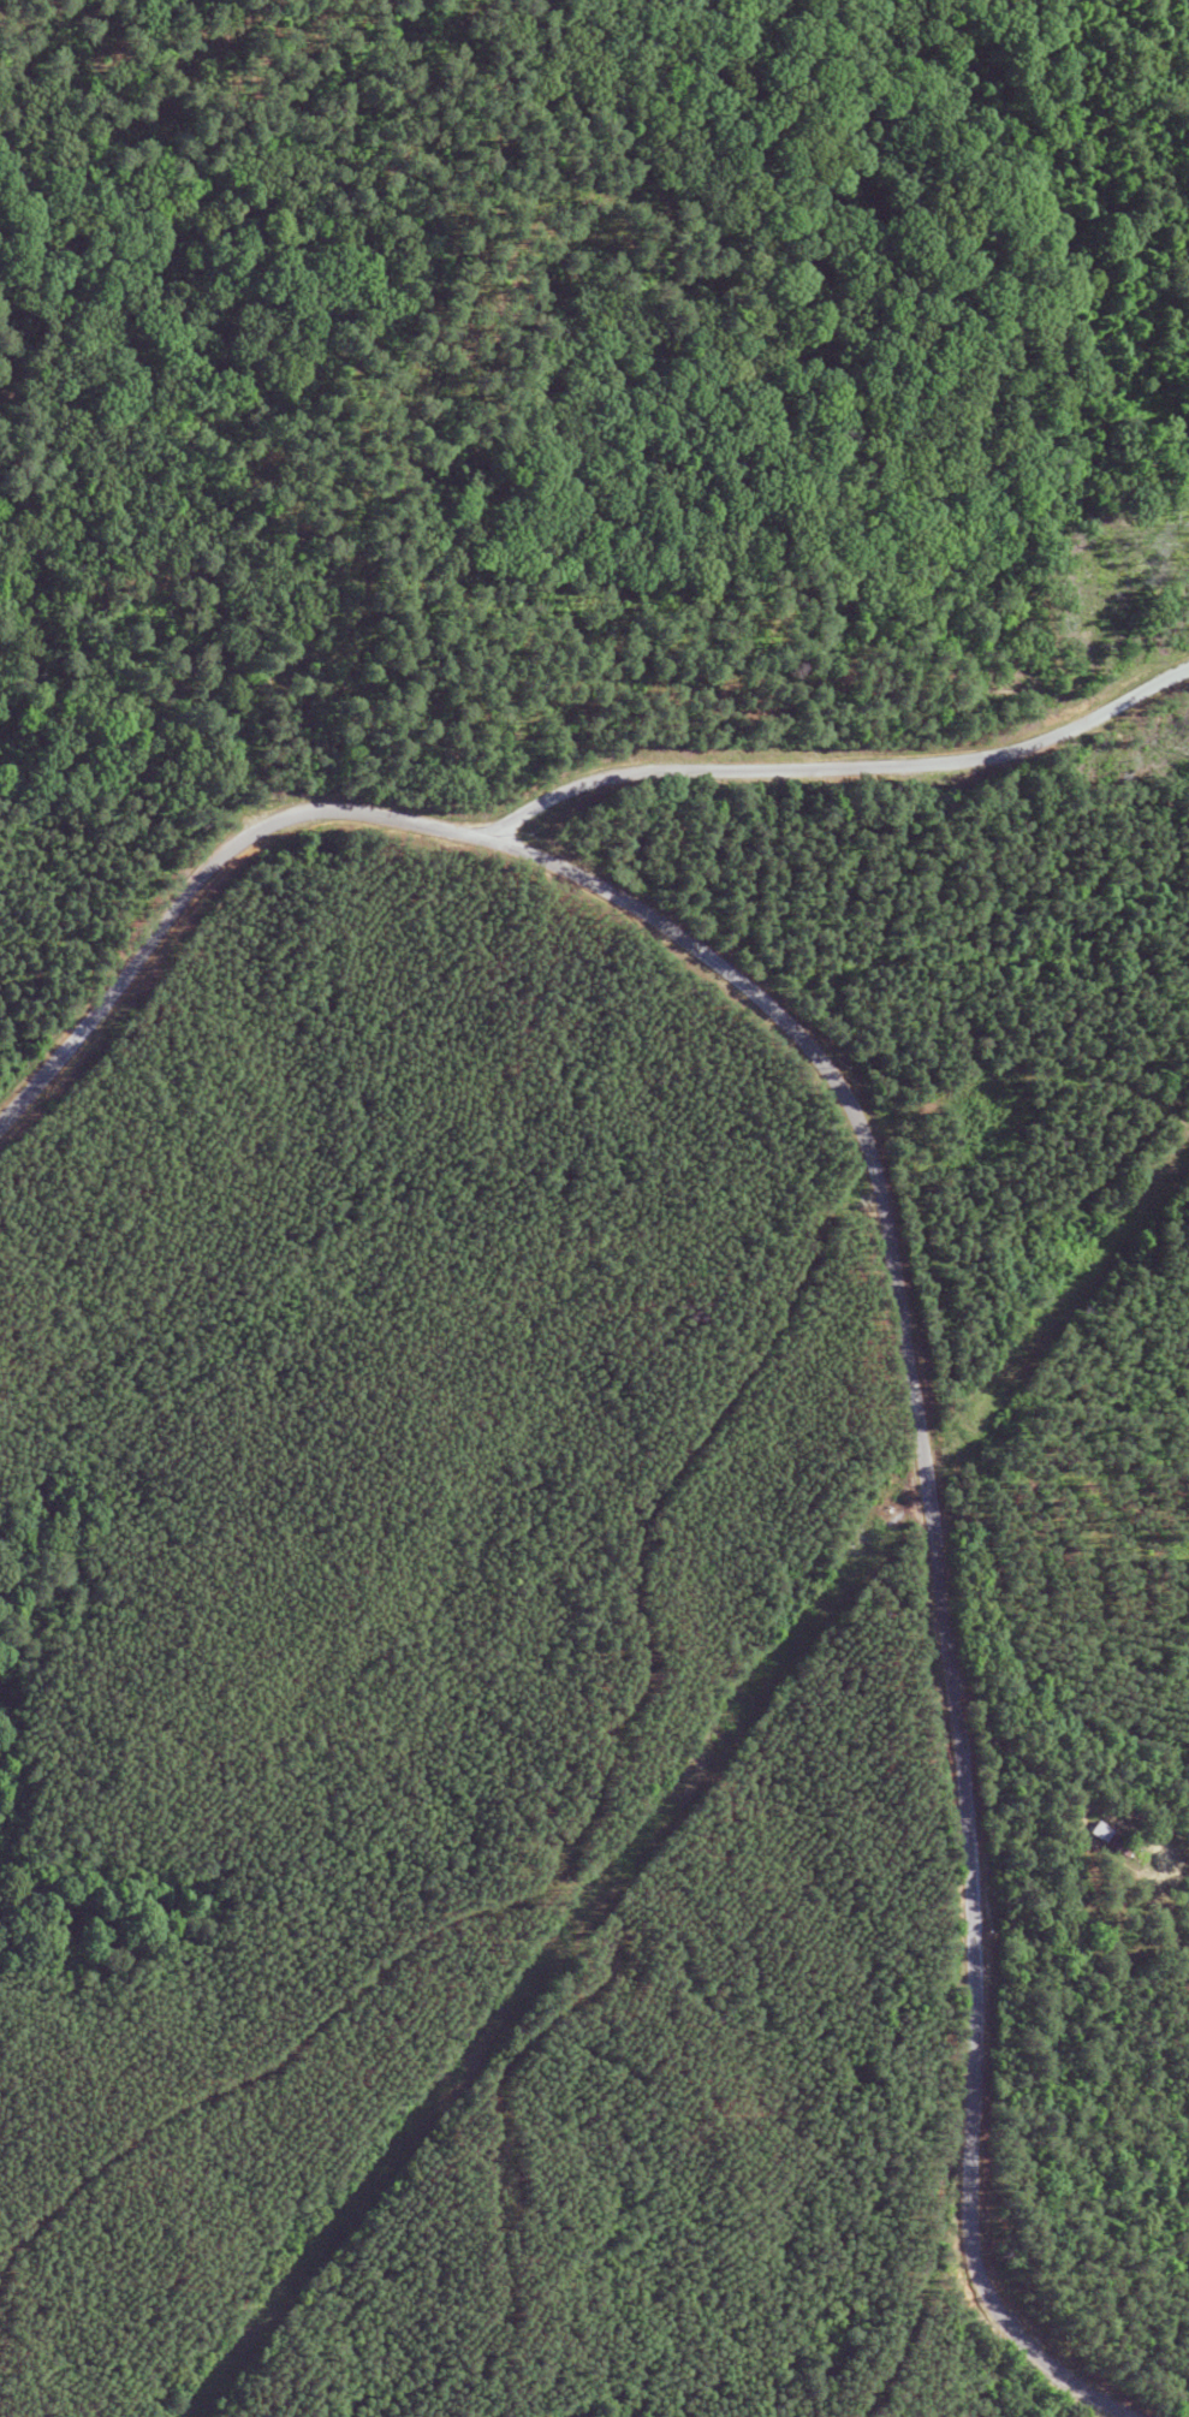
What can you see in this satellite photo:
road: (156, 557)
road: (821, 684)
road: (891, 1253)
building: (1106, 1840)
road: (1081, 1865)

